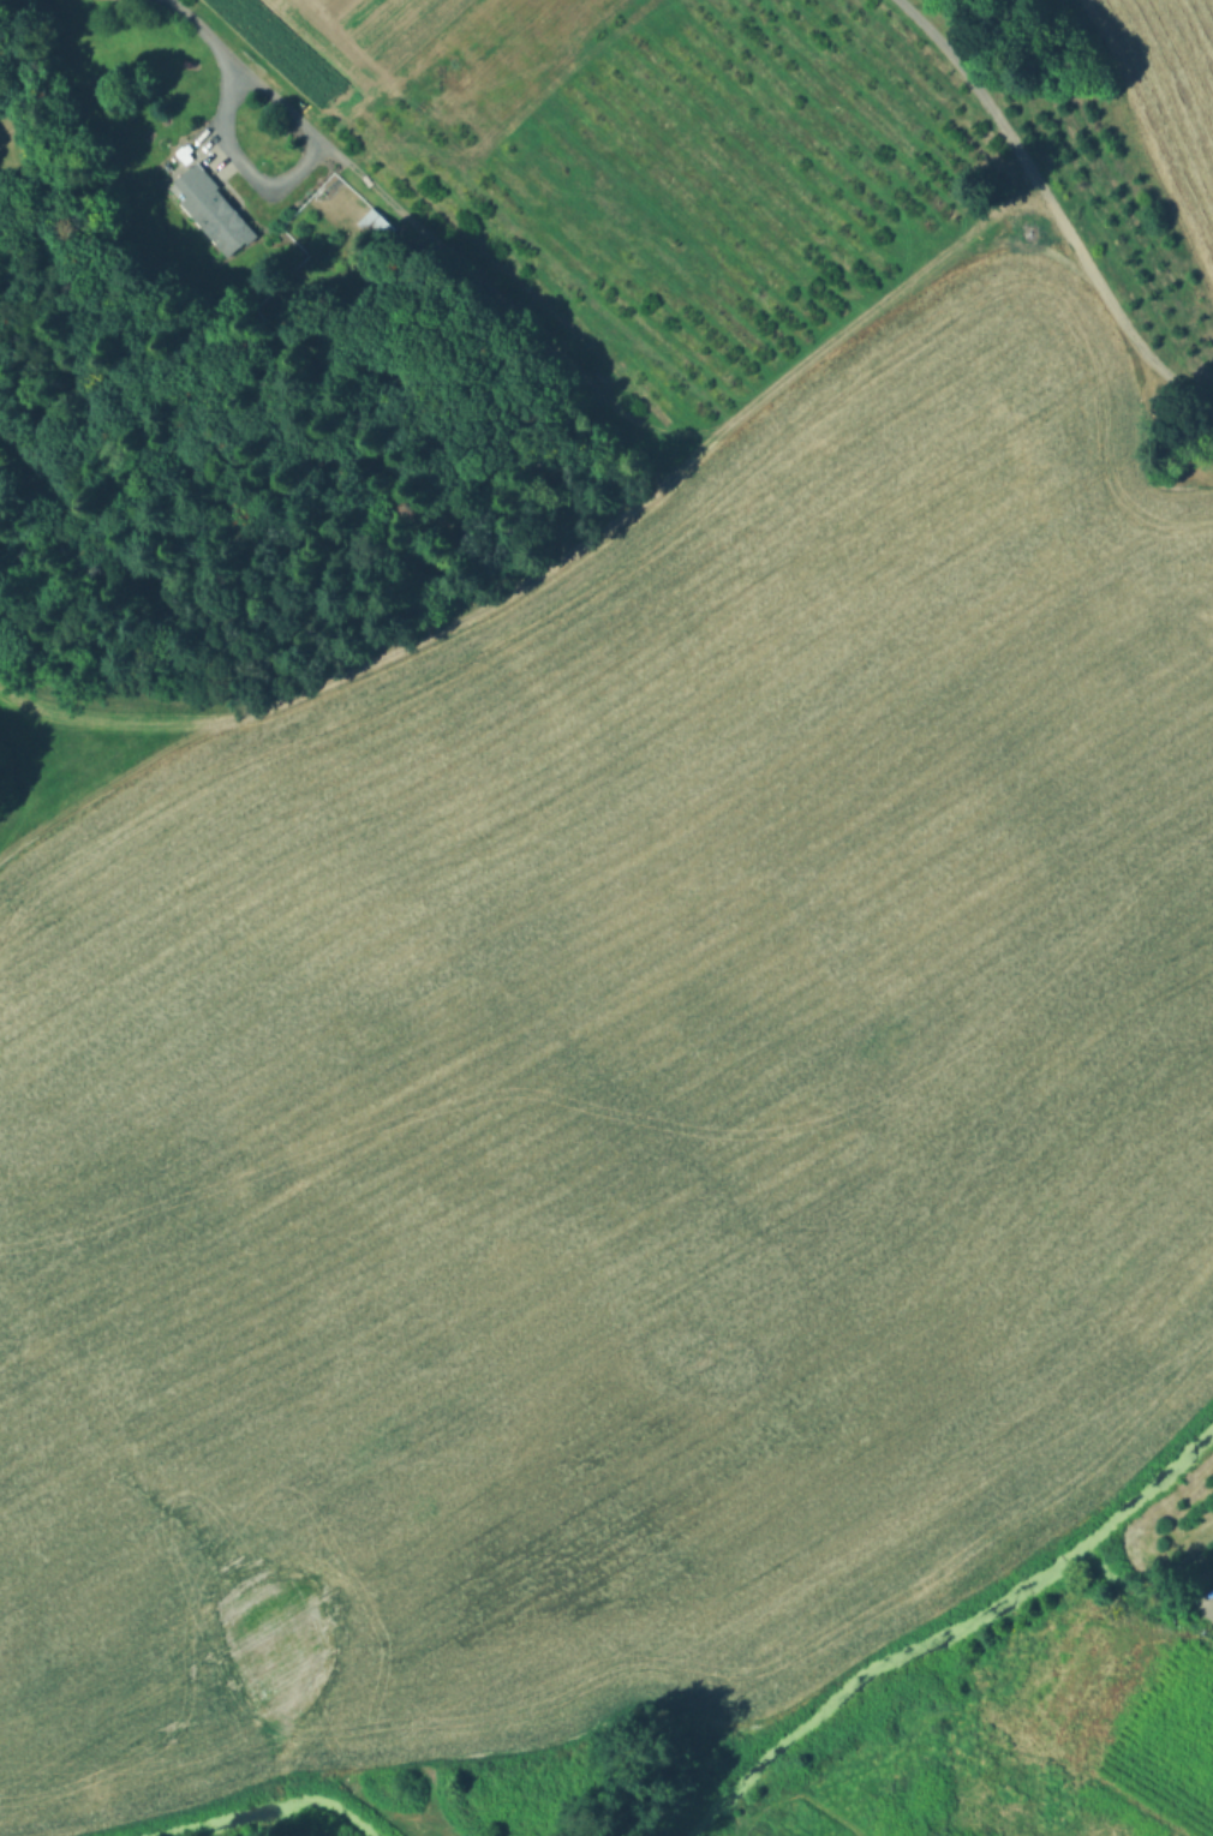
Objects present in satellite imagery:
road: (202, 31)
crop: (647, 161)
crop: (1145, 168)
road: (289, 180)
building: (213, 205)
building: (374, 227)
crop: (621, 1093)

